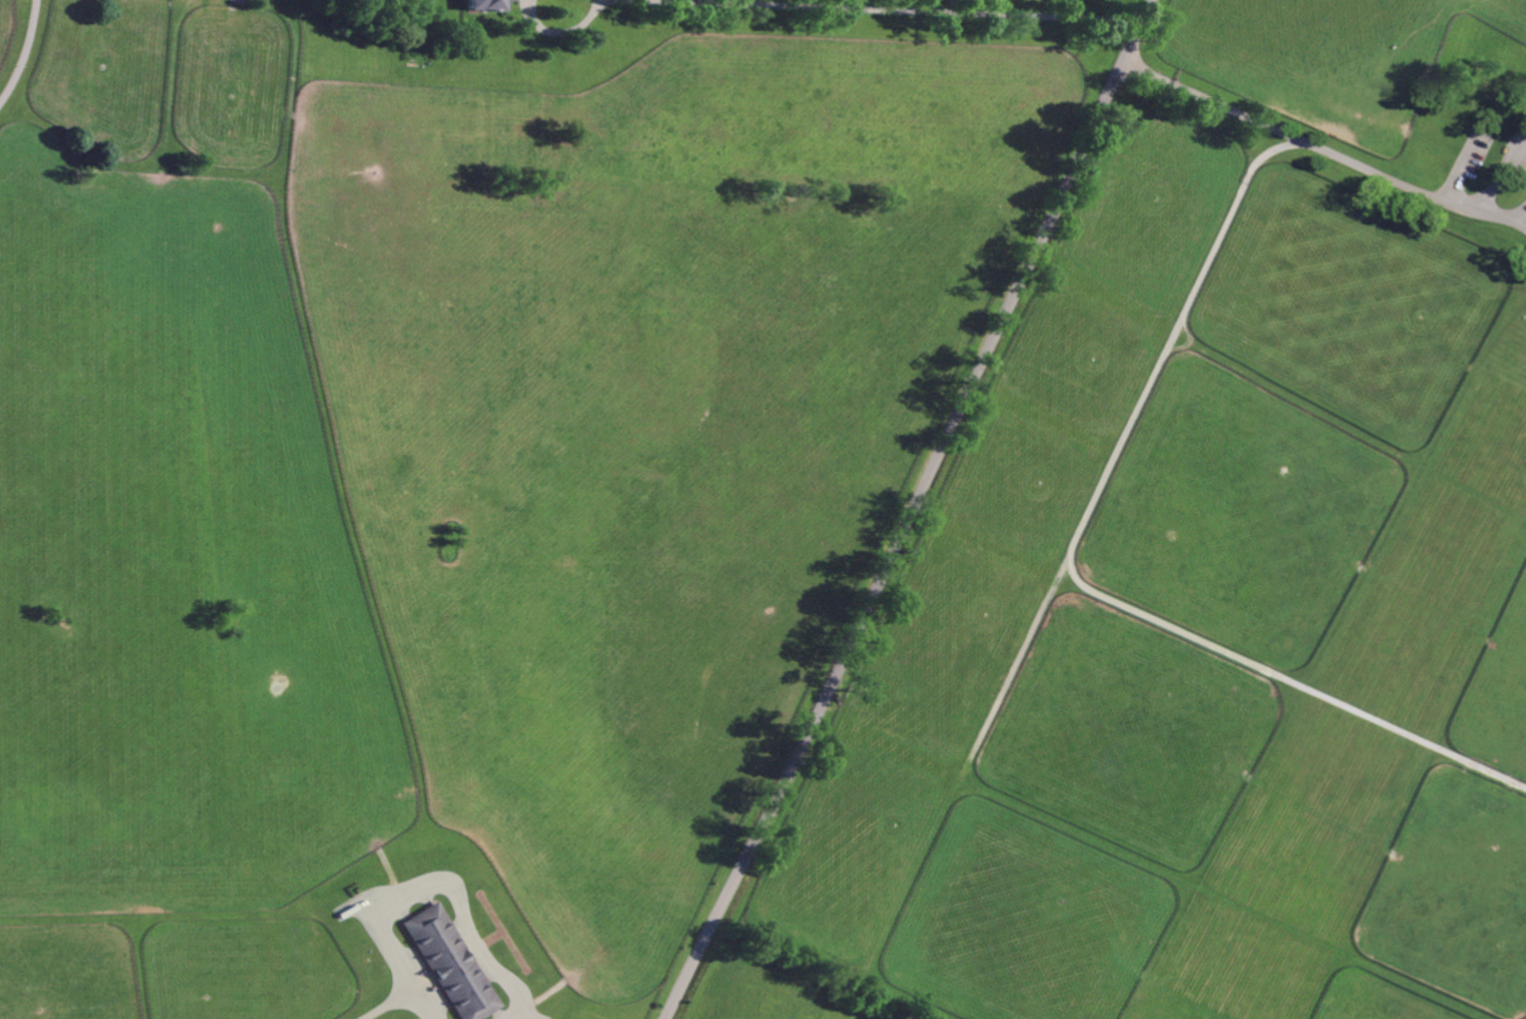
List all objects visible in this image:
building: (488, 5)
road: (816, 7)
road: (25, 54)
road: (1321, 149)
road: (914, 512)
building: (453, 963)
road: (382, 1005)

